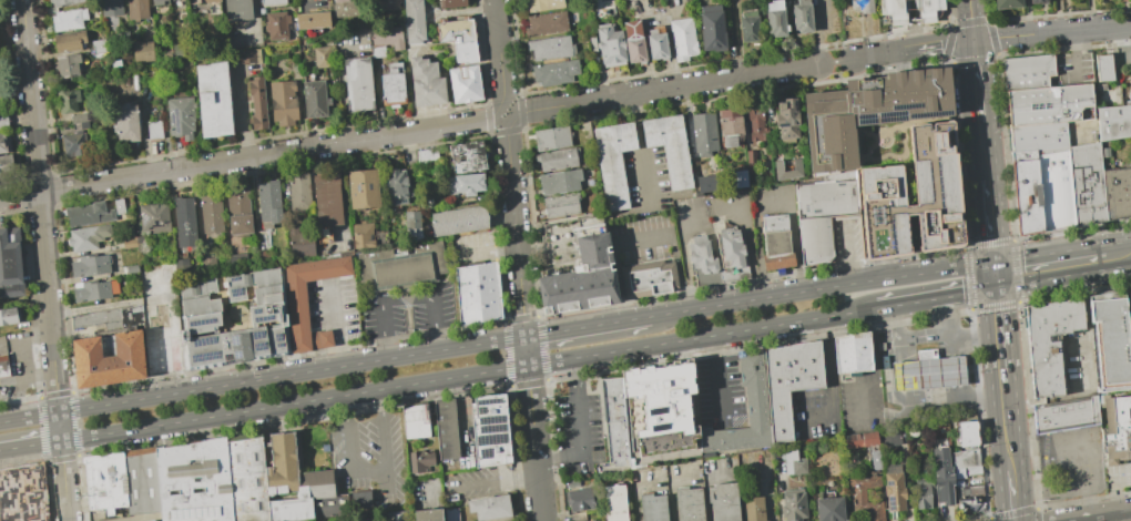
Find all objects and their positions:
building: (307, 0)
building: (337, 0)
building: (155, 1)
building: (200, 1)
building: (271, 1)
building: (1036, 1)
building: (63, 2)
building: (600, 2)
building: (450, 3)
building: (1006, 3)
building: (388, 4)
building: (541, 4)
building: (860, 6)
building: (110, 7)
building: (136, 9)
building: (237, 10)
building: (913, 10)
road: (914, 11)
building: (801, 17)
building: (775, 18)
building: (68, 19)
building: (312, 20)
road: (970, 20)
building: (414, 21)
building: (544, 22)
building: (276, 24)
building: (748, 27)
building: (711, 29)
road: (819, 32)
road: (666, 34)
road: (916, 35)
building: (458, 37)
building: (681, 38)
building: (385, 39)
road: (992, 39)
building: (68, 41)
building: (632, 41)
traffic signals: (974, 41)
building: (655, 43)
building: (98, 45)
building: (609, 45)
building: (549, 48)
building: (142, 51)
road: (499, 53)
road: (1073, 53)
building: (248, 55)
building: (322, 57)
road: (837, 61)
road: (893, 62)
building: (67, 64)
power substation: (4, 68)
building: (1109, 68)
building: (553, 72)
building: (1031, 72)
building: (425, 82)
road: (977, 82)
building: (463, 83)
building: (357, 84)
building: (391, 84)
road: (895, 84)
road: (665, 89)
parking lot: (896, 96)
road: (503, 98)
building: (213, 99)
building: (314, 99)
building: (67, 100)
rooftop solar panel: (909, 101)
building: (256, 102)
building: (282, 102)
building: (1052, 105)
rooftop solar panel: (931, 111)
road: (522, 112)
rooftop solar panel: (890, 113)
road: (507, 114)
rooftop solar panel: (866, 115)
building: (180, 116)
building: (79, 118)
building: (2, 120)
building: (787, 120)
building: (124, 122)
building: (1115, 122)
building: (757, 125)
building: (730, 126)
building: (153, 129)
road: (491, 133)
building: (704, 133)
building: (1041, 135)
building: (552, 139)
building: (2, 143)
building: (74, 144)
building: (670, 146)
road: (982, 151)
road: (641, 152)
building: (427, 155)
road: (252, 156)
building: (468, 156)
building: (893, 156)
building: (752, 157)
building: (558, 159)
building: (613, 162)
building: (776, 165)
building: (1, 166)
building: (741, 178)
rooftop solar panel: (1081, 181)
building: (558, 182)
parking lot: (645, 182)
building: (706, 183)
building: (1090, 183)
building: (465, 184)
building: (398, 187)
building: (1058, 187)
building: (364, 191)
building: (1029, 191)
building: (300, 193)
building: (1119, 193)
building: (327, 201)
building: (269, 202)
building: (428, 203)
building: (561, 205)
building: (120, 206)
building: (240, 210)
building: (211, 213)
building: (824, 213)
building: (90, 215)
building: (154, 218)
building: (458, 219)
building: (185, 222)
building: (412, 226)
road: (989, 226)
building: (364, 235)
building: (88, 237)
parking lot: (643, 239)
road: (643, 239)
building: (140, 241)
building: (129, 242)
building: (300, 242)
building: (776, 244)
road: (488, 246)
parking lot: (475, 248)
building: (734, 254)
road: (848, 254)
building: (265, 255)
road: (1118, 255)
building: (238, 259)
road: (43, 260)
building: (10, 262)
building: (212, 262)
building: (705, 263)
building: (577, 264)
building: (91, 265)
road: (1049, 265)
building: (403, 266)
building: (132, 269)
building: (167, 274)
traffic signals: (994, 274)
rooftop solar panel: (234, 278)
building: (650, 278)
road: (822, 289)
building: (95, 290)
rooftop solar panel: (236, 290)
road: (962, 293)
building: (478, 294)
building: (1130, 294)
road: (406, 298)
road: (901, 304)
building: (295, 305)
rooftop solar panel: (255, 308)
parking lot: (335, 308)
parking lot: (410, 310)
building: (9, 315)
rooftop solar panel: (263, 316)
building: (160, 317)
building: (1129, 317)
building: (233, 318)
building: (111, 319)
rooftop solar panel: (201, 319)
road: (523, 319)
road: (1087, 325)
road: (587, 326)
road: (337, 327)
road: (948, 327)
rooftop solar panel: (257, 333)
road: (999, 333)
road: (895, 334)
rooftop solar panel: (277, 335)
rooftop solar panel: (233, 337)
road: (947, 337)
rooftop solar panel: (204, 338)
building: (1051, 341)
rooftop solar panel: (279, 343)
building: (1109, 343)
rooftop solar panel: (258, 344)
rooftop solar panel: (237, 351)
rooftop solar panel: (204, 353)
building: (853, 354)
building: (162, 355)
building: (109, 359)
road: (874, 364)
building: (3, 366)
road: (829, 367)
building: (928, 368)
building: (950, 370)
road: (952, 370)
gas station: (925, 371)
road: (717, 372)
road: (469, 375)
building: (905, 375)
road: (899, 376)
road: (262, 378)
building: (791, 380)
parking lot: (720, 391)
road: (954, 391)
road: (946, 398)
rooftop solar panel: (487, 399)
building: (756, 406)
rooftop solar panel: (656, 408)
rooftop solar panel: (480, 409)
building: (661, 413)
parking lot: (816, 413)
building: (1067, 413)
road: (463, 418)
rooftop solar panel: (489, 418)
road: (816, 418)
building: (416, 420)
building: (615, 421)
rooftop solar panel: (656, 423)
building: (1118, 426)
rooftop solar panel: (490, 427)
road: (579, 427)
building: (446, 429)
road: (383, 431)
building: (490, 431)
road: (1007, 431)
building: (968, 432)
parking lot: (580, 433)
building: (889, 436)
rooftop solar panel: (488, 438)
building: (862, 438)
road: (30, 446)
road: (349, 449)
rooftop solar panel: (483, 451)
building: (707, 453)
building: (966, 457)
parking lot: (370, 459)
building: (421, 460)
building: (794, 461)
building: (974, 469)
building: (960, 472)
building: (942, 474)
building: (247, 477)
road: (387, 480)
road: (498, 480)
building: (105, 481)
building: (141, 481)
building: (194, 481)
parking lot: (477, 482)
building: (573, 482)
rooftop solar panel: (889, 483)
building: (300, 486)
building: (895, 490)
building: (924, 491)
road: (1013, 494)
building: (965, 497)
building: (361, 498)
building: (580, 498)
building: (859, 498)
building: (724, 501)
building: (615, 502)
building: (689, 503)
building: (794, 504)
rooftop solar panel: (890, 504)
building: (490, 507)
building: (654, 507)
building: (753, 508)
building: (829, 508)
building: (428, 514)
building: (451, 514)
building: (396, 515)
road: (1101, 515)
building: (579, 517)
building: (150, 520)
building: (590, 520)

